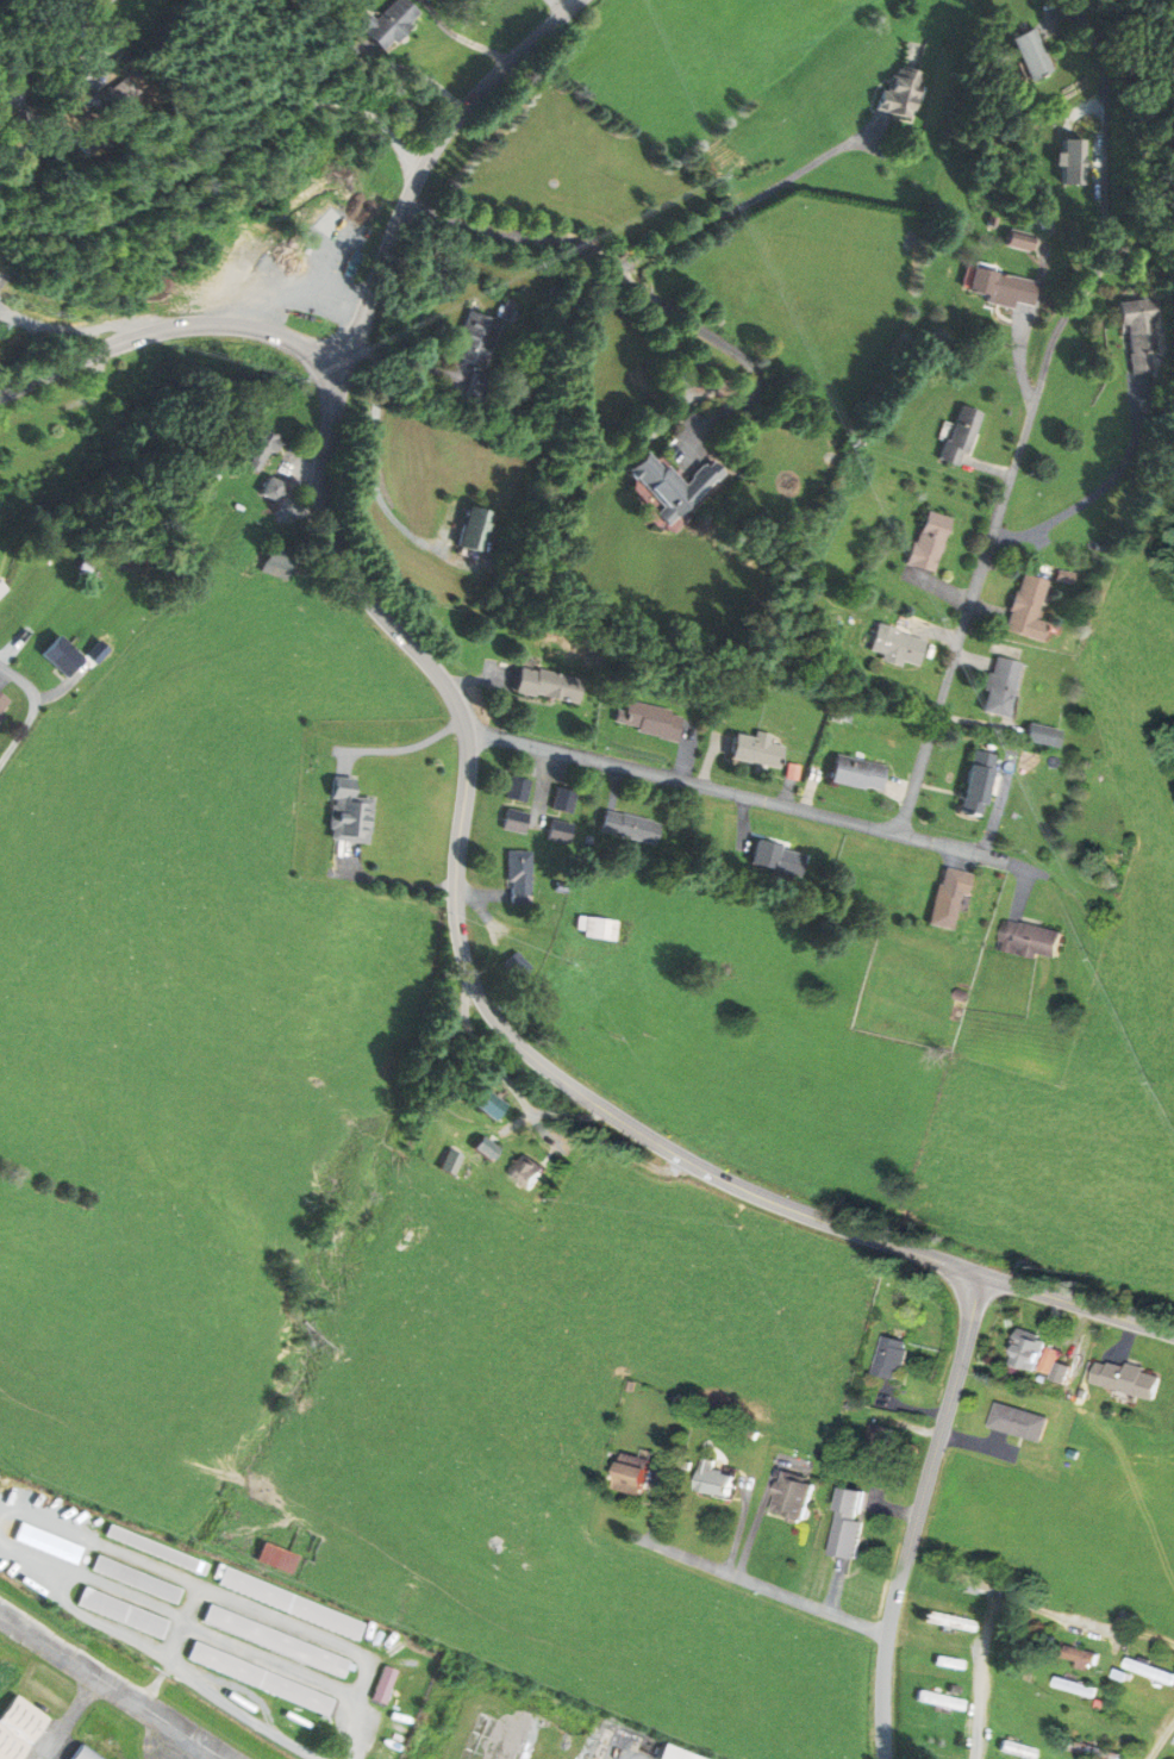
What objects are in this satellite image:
building: (392, 23)
building: (1030, 55)
building: (12, 89)
building: (903, 93)
road: (423, 169)
road: (1107, 176)
road: (133, 204)
road: (737, 205)
road: (533, 233)
building: (1013, 243)
power substation: (1, 277)
building: (994, 287)
road: (167, 330)
building: (1139, 335)
building: (477, 338)
building: (479, 389)
building: (954, 437)
building: (261, 445)
road: (375, 455)
building: (676, 486)
building: (275, 489)
road: (1061, 524)
building: (476, 529)
building: (932, 542)
road: (991, 542)
building: (280, 564)
building: (1, 588)
building: (1034, 609)
building: (906, 647)
building: (62, 657)
road: (25, 685)
building: (545, 686)
building: (1010, 687)
building: (2, 704)
building: (845, 713)
building: (645, 722)
building: (1050, 736)
road: (17, 740)
building: (757, 751)
building: (862, 774)
building: (985, 784)
road: (542, 787)
building: (512, 791)
road: (738, 793)
building: (558, 801)
building: (354, 813)
building: (511, 822)
building: (627, 828)
building: (555, 832)
building: (778, 859)
building: (514, 878)
building: (953, 899)
building: (593, 928)
building: (1036, 941)
road: (514, 1040)
building: (497, 1106)
building: (489, 1153)
building: (454, 1164)
building: (532, 1174)
building: (408, 1236)
building: (1038, 1354)
building: (894, 1359)
building: (1131, 1380)
building: (1022, 1423)
building: (885, 1453)
building: (631, 1473)
building: (723, 1482)
building: (798, 1498)
road: (661, 1507)
road: (918, 1514)
building: (853, 1524)
building: (157, 1551)
building: (279, 1559)
building: (137, 1580)
building: (967, 1580)
road: (760, 1585)
road: (1012, 1602)
building: (291, 1604)
building: (123, 1614)
building: (275, 1642)
airport: (182, 1651)
building: (1082, 1658)
building: (950, 1664)
building: (1150, 1671)
building: (260, 1680)
building: (382, 1686)
airport runway: (110, 1688)
building: (1078, 1689)
building: (942, 1702)
building: (1119, 1714)
airport taxiway: (67, 1719)
building: (24, 1727)
road: (1159, 1741)
building: (1018, 1751)
building: (1094, 1752)
airport hangar: (94, 1753)
building: (94, 1753)
building: (675, 1754)

